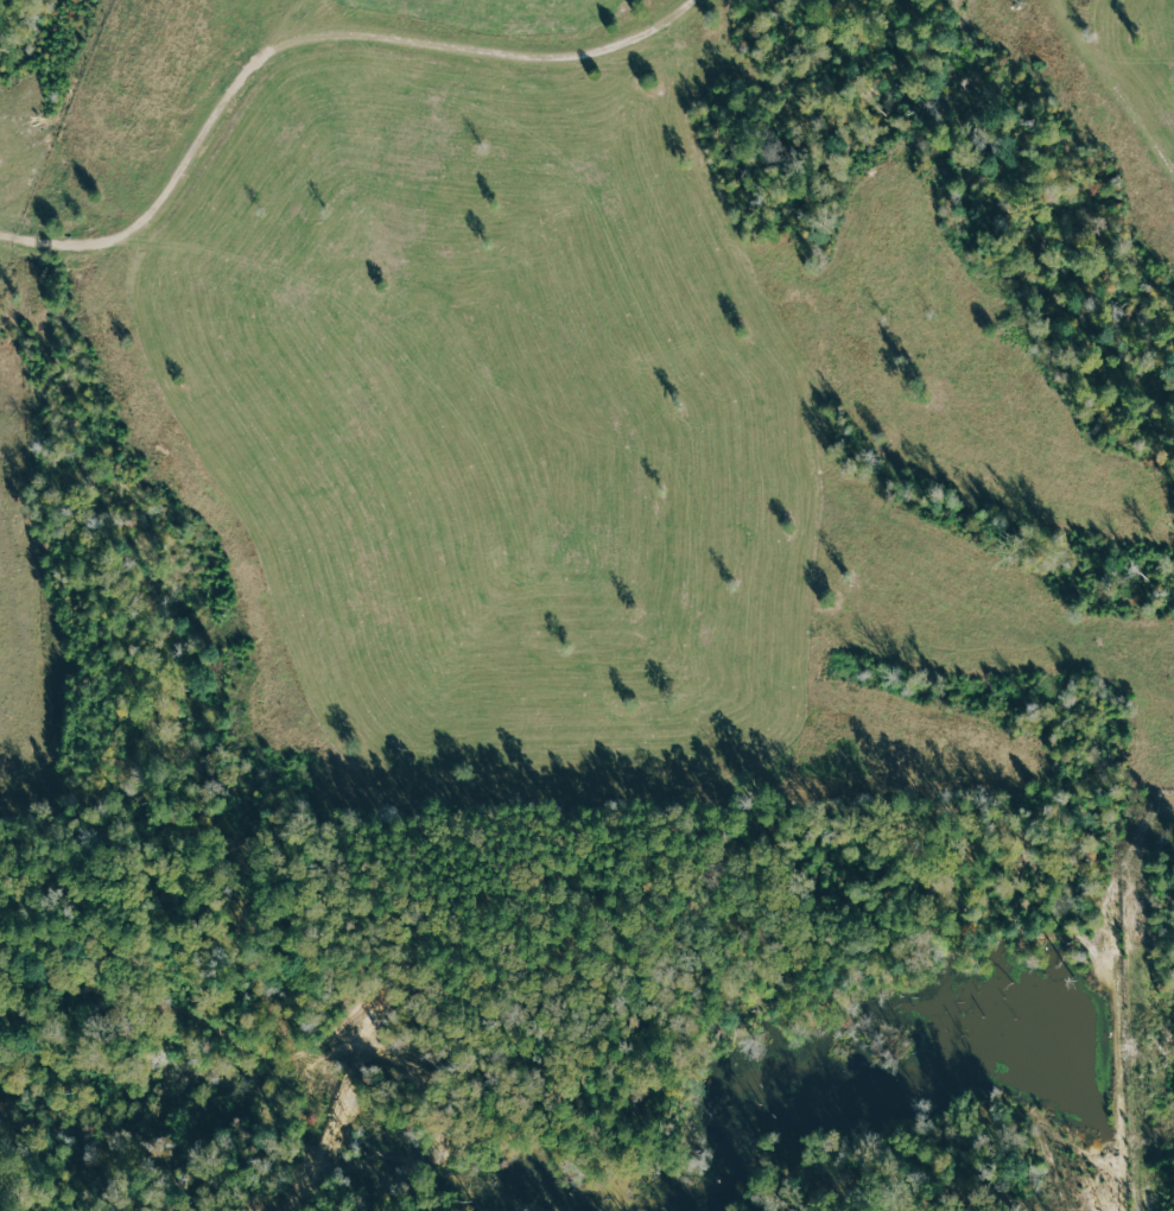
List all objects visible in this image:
road: (180, 173)

